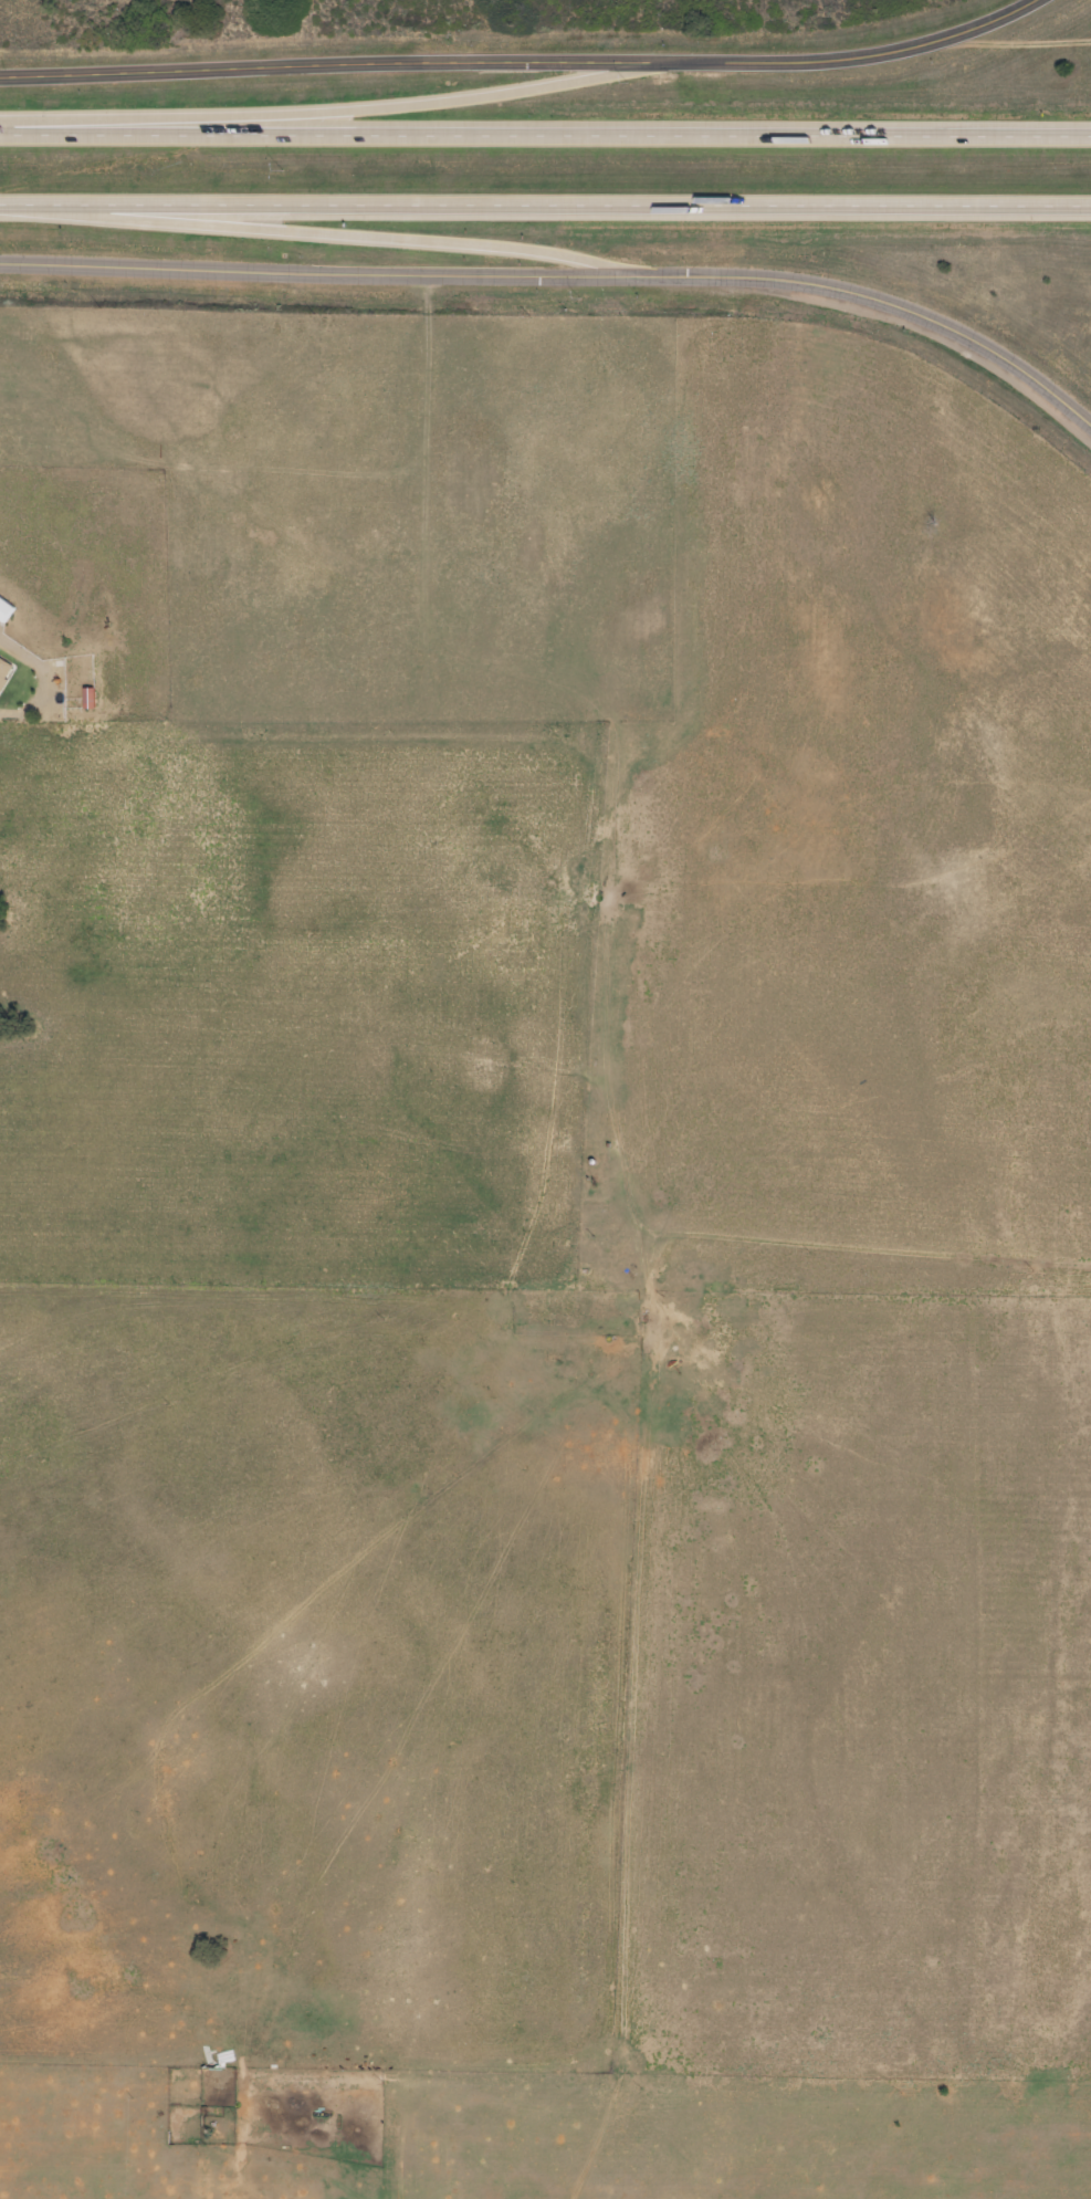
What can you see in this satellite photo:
road: (828, 52)
road: (314, 59)
road: (316, 106)
road: (545, 128)
road: (545, 202)
road: (314, 230)
road: (312, 272)
road: (874, 296)
building: (4, 610)
building: (1, 666)
building: (213, 2072)

